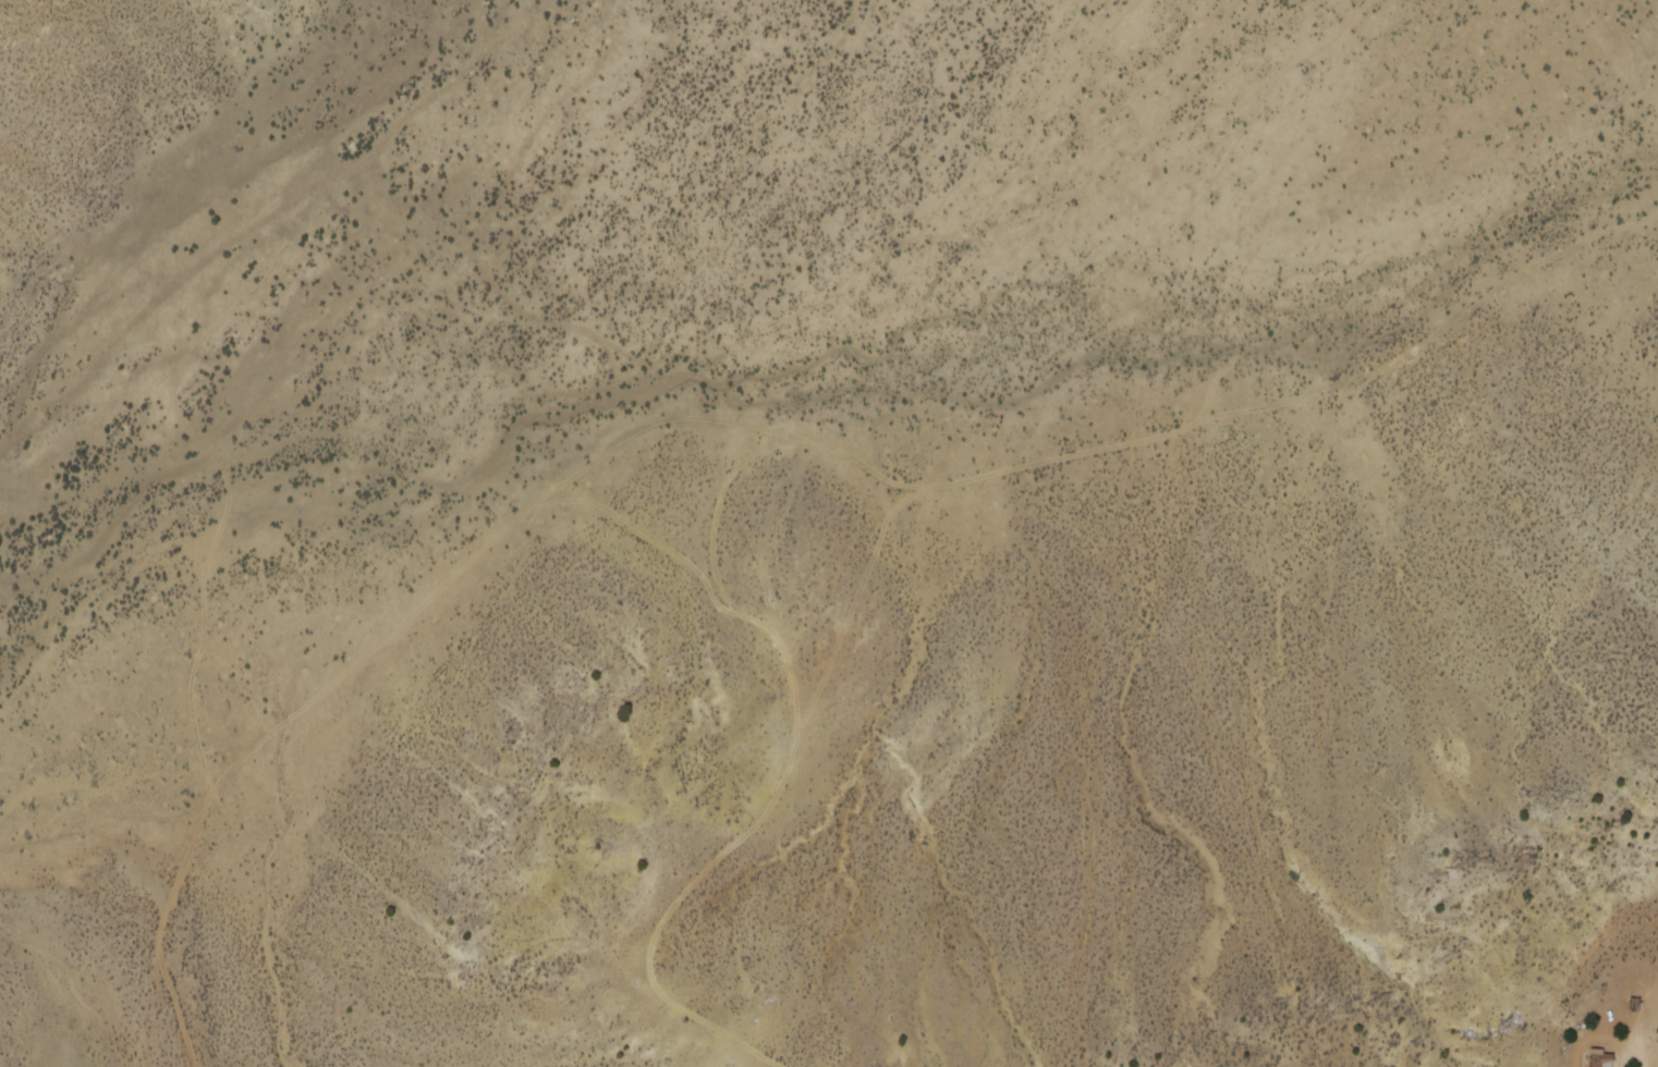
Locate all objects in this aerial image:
building: (1602, 1058)

